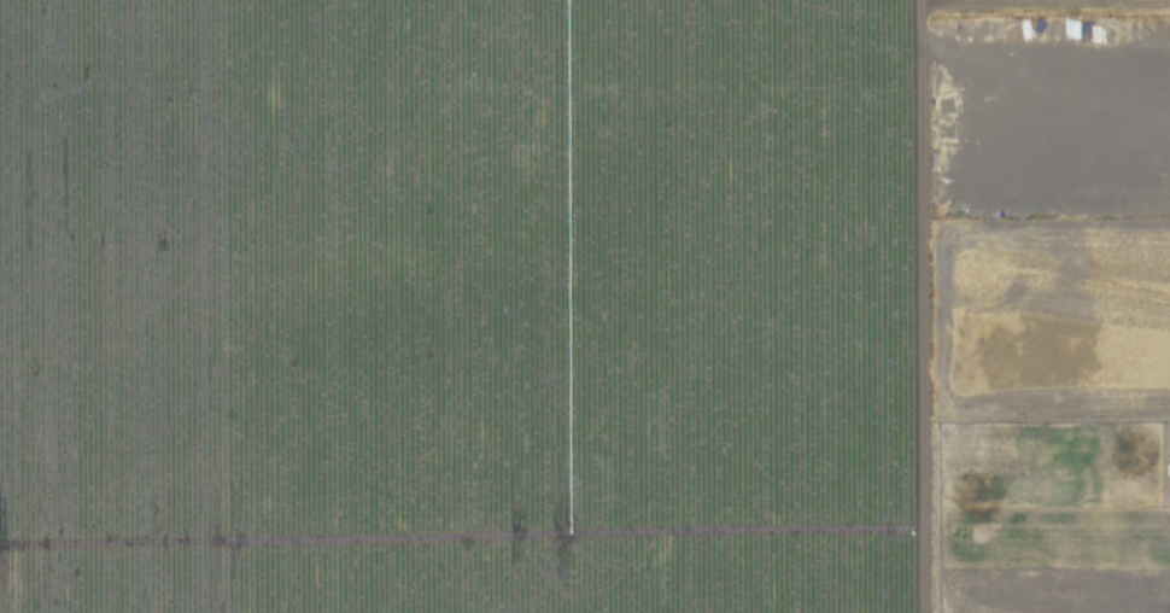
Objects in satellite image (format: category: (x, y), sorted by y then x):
road: (1053, 2)
railway: (703, 306)

